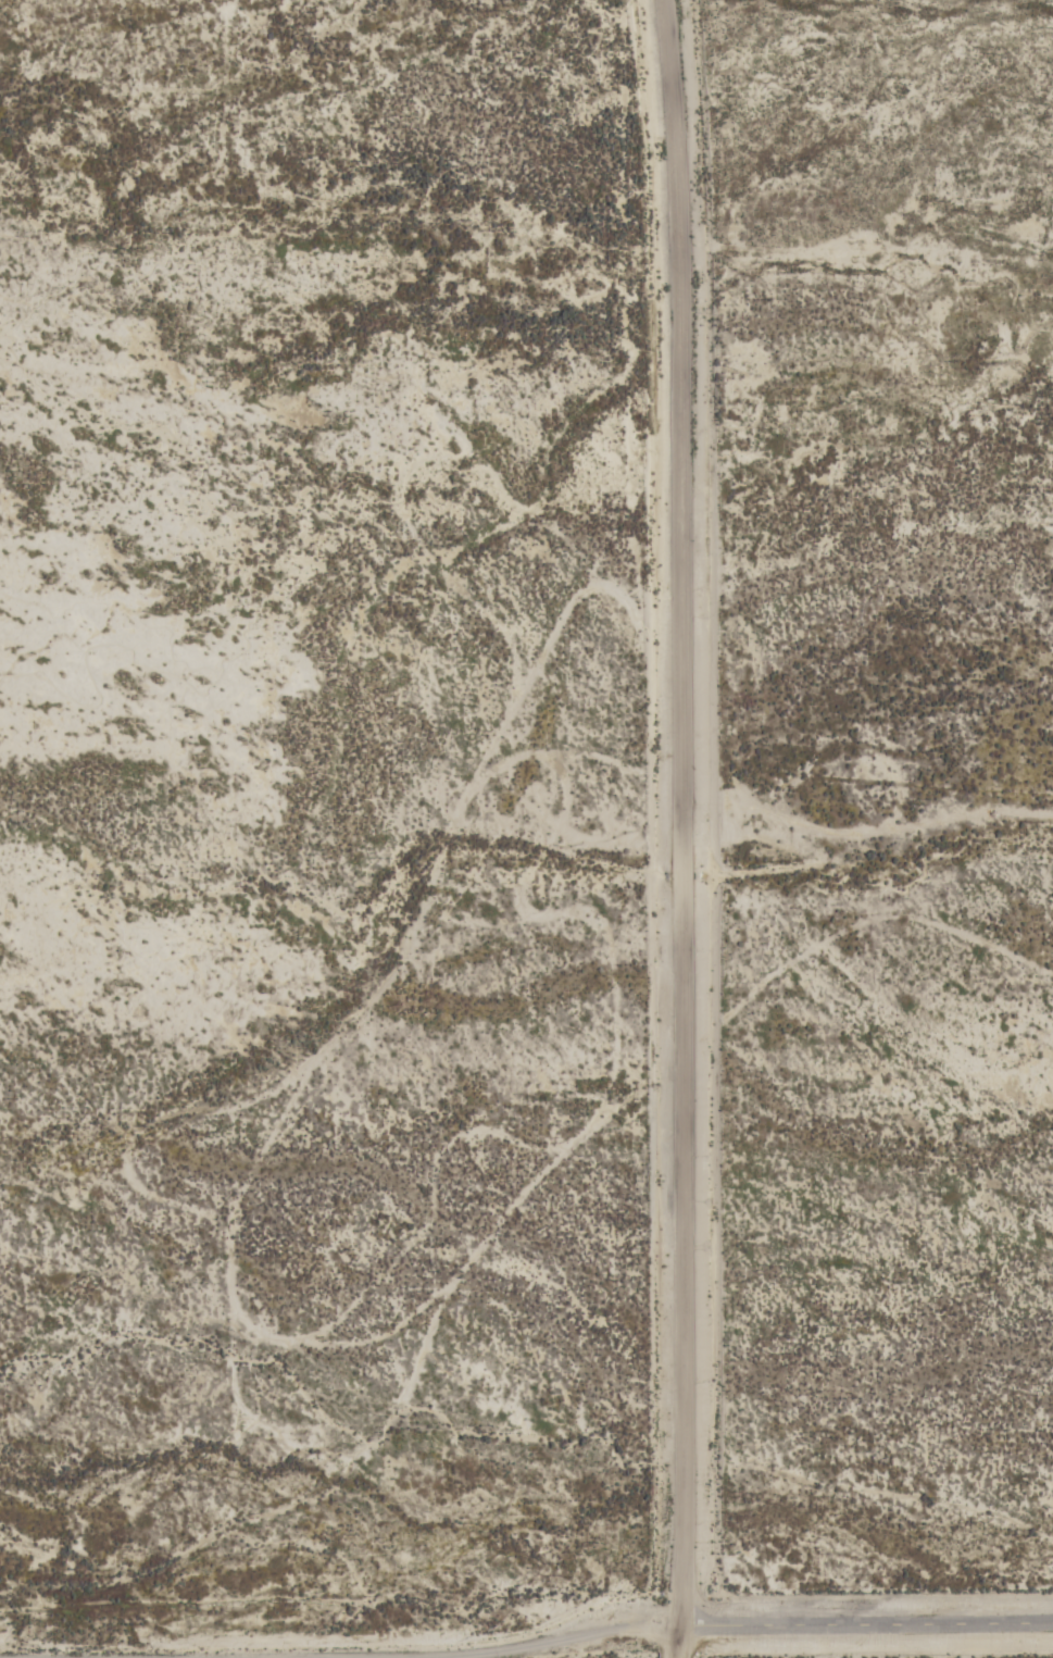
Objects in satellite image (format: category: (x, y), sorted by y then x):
road: (680, 828)
railway: (166, 1230)
railway: (161, 1243)
railway: (378, 1580)
railway: (366, 1582)
road: (645, 1632)

